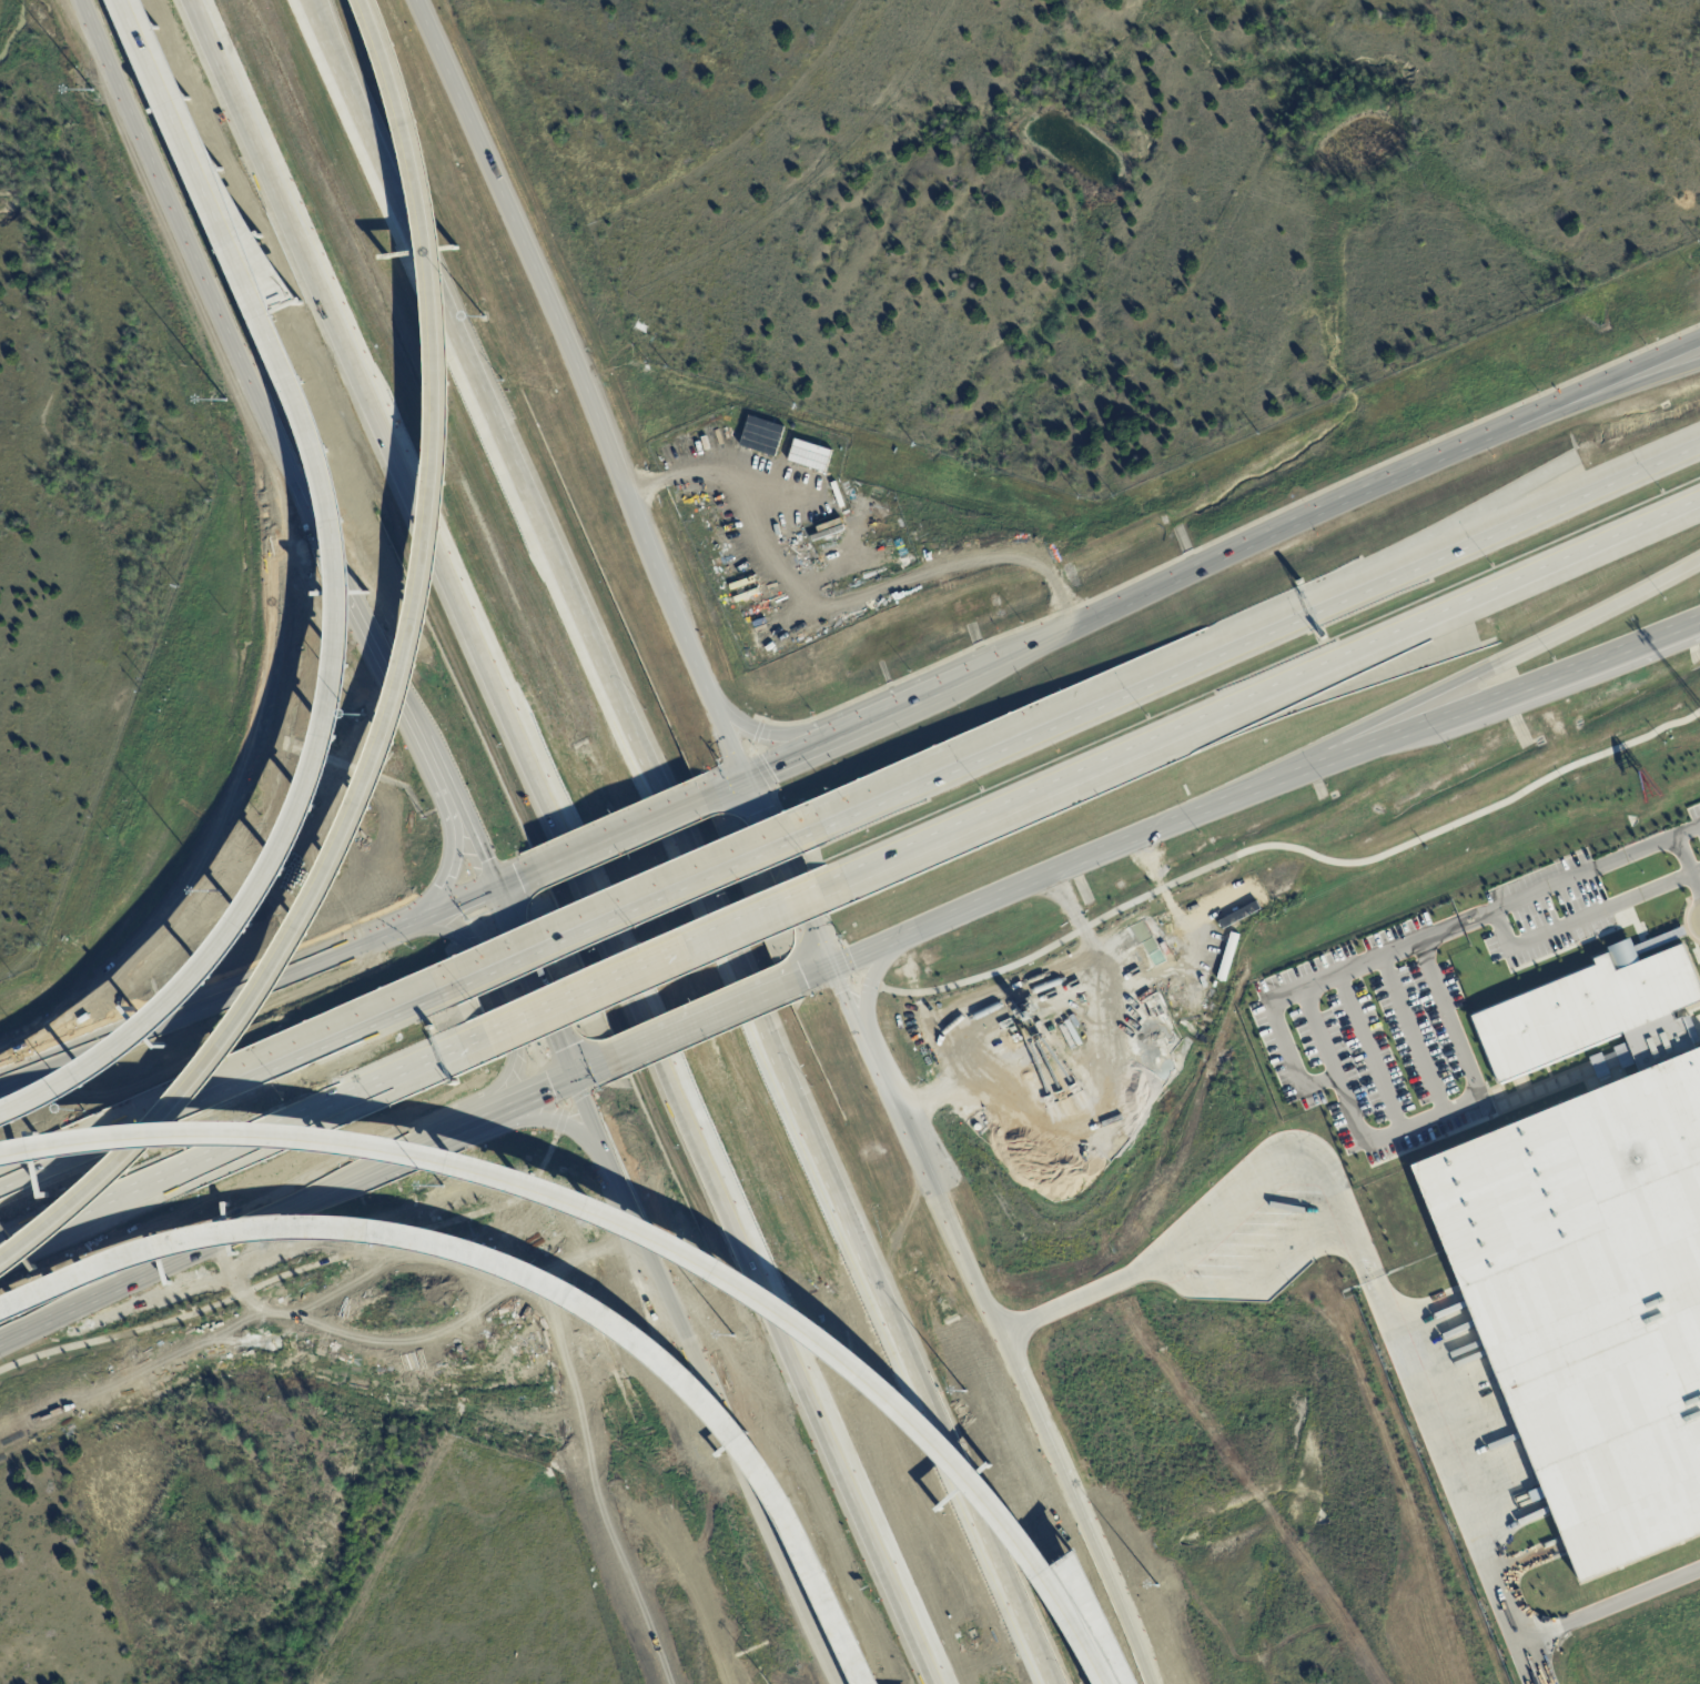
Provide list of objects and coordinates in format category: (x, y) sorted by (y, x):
road: (315, 9)
road: (317, 9)
road: (584, 386)
road: (1591, 386)
road: (1591, 401)
road: (290, 470)
road: (1249, 545)
road: (1438, 554)
road: (848, 579)
road: (338, 602)
road: (1338, 661)
road: (979, 666)
road: (1566, 668)
road: (1458, 680)
road: (392, 688)
road: (884, 708)
road: (767, 734)
road: (994, 746)
road: (785, 755)
road: (1324, 759)
traffic signals: (743, 775)
road: (723, 785)
road: (669, 811)
parking lot: (1694, 818)
road: (556, 846)
road: (1251, 846)
road: (585, 847)
road: (775, 848)
road: (684, 850)
road: (909, 851)
road: (1686, 867)
road: (514, 877)
road: (446, 879)
road: (1557, 883)
road: (1022, 885)
traffic signals: (492, 886)
road: (637, 901)
parking lot: (1544, 909)
road: (1585, 915)
road: (1692, 918)
building: (1670, 936)
road: (817, 945)
road: (662, 960)
traffic signals: (828, 968)
road: (808, 977)
road: (868, 985)
road: (246, 987)
road: (490, 997)
road: (544, 1005)
road: (726, 1011)
road: (1316, 1031)
road: (1409, 1033)
road: (712, 1035)
road: (330, 1037)
parking lot: (1373, 1039)
road: (639, 1048)
road: (1367, 1050)
road: (595, 1068)
traffic signals: (576, 1077)
road: (533, 1095)
road: (1346, 1105)
road: (553, 1120)
road: (99, 1125)
road: (259, 1137)
road: (99, 1139)
road: (428, 1141)
road: (641, 1233)
road: (16, 1243)
road: (183, 1254)
building: (1590, 1256)
road: (338, 1257)
road: (524, 1275)
road: (1383, 1313)
road: (991, 1324)
road: (705, 1381)
building: (1536, 1494)

